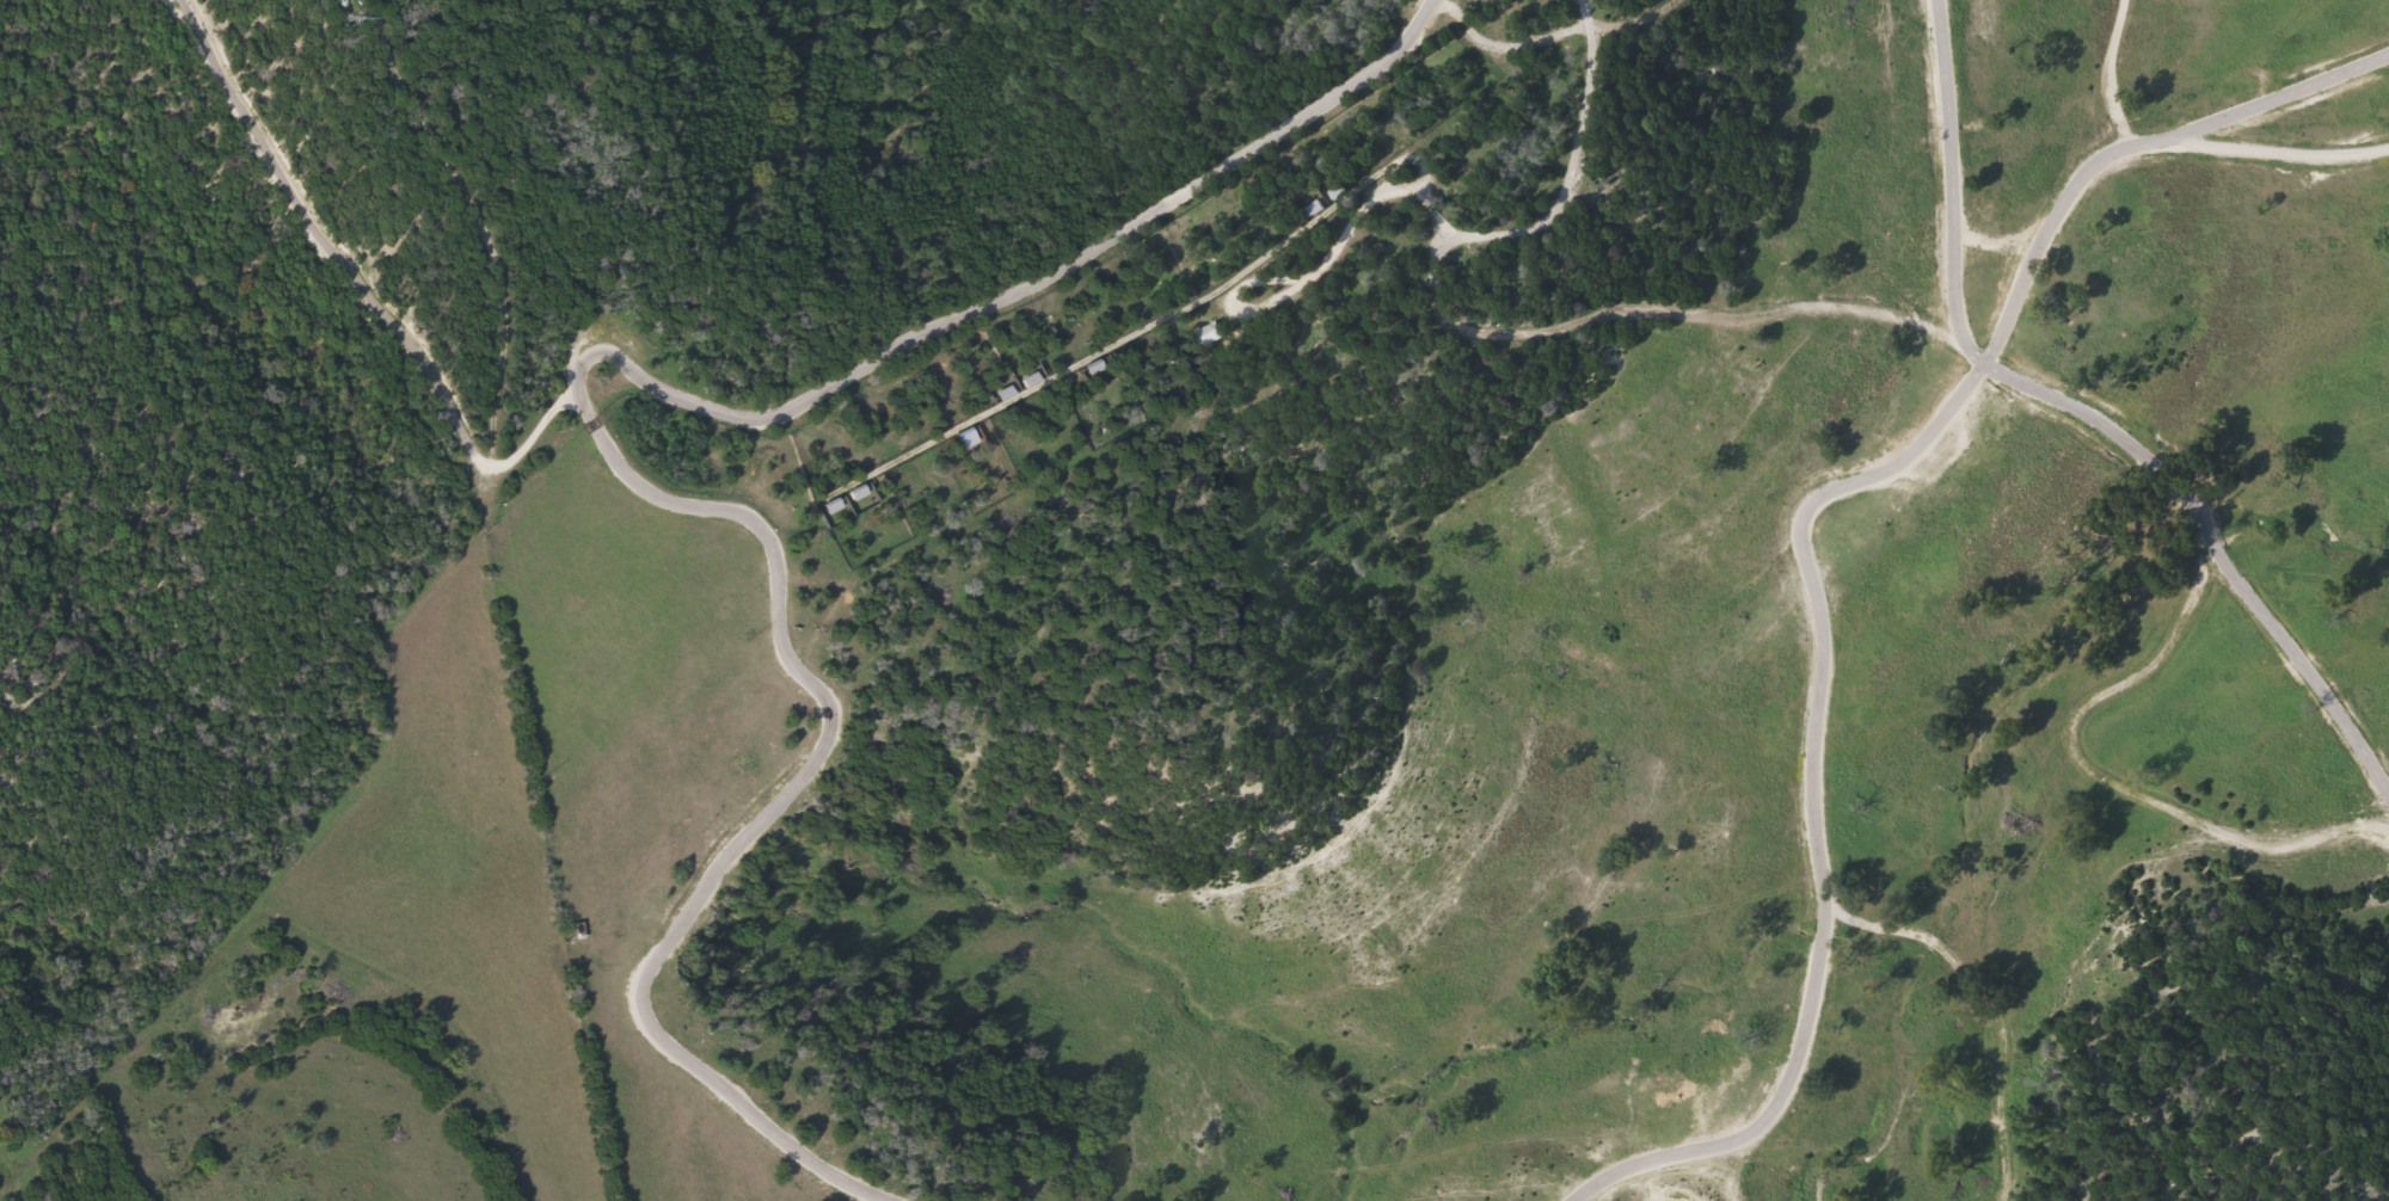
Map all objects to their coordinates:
road: (2108, 76)
road: (2258, 100)
road: (1571, 166)
road: (1957, 185)
building: (1316, 208)
road: (371, 272)
building: (1210, 333)
road: (610, 357)
road: (2018, 381)
building: (860, 492)
road: (1798, 544)
road: (223, 962)
road: (1991, 1004)
road: (23, 1156)

